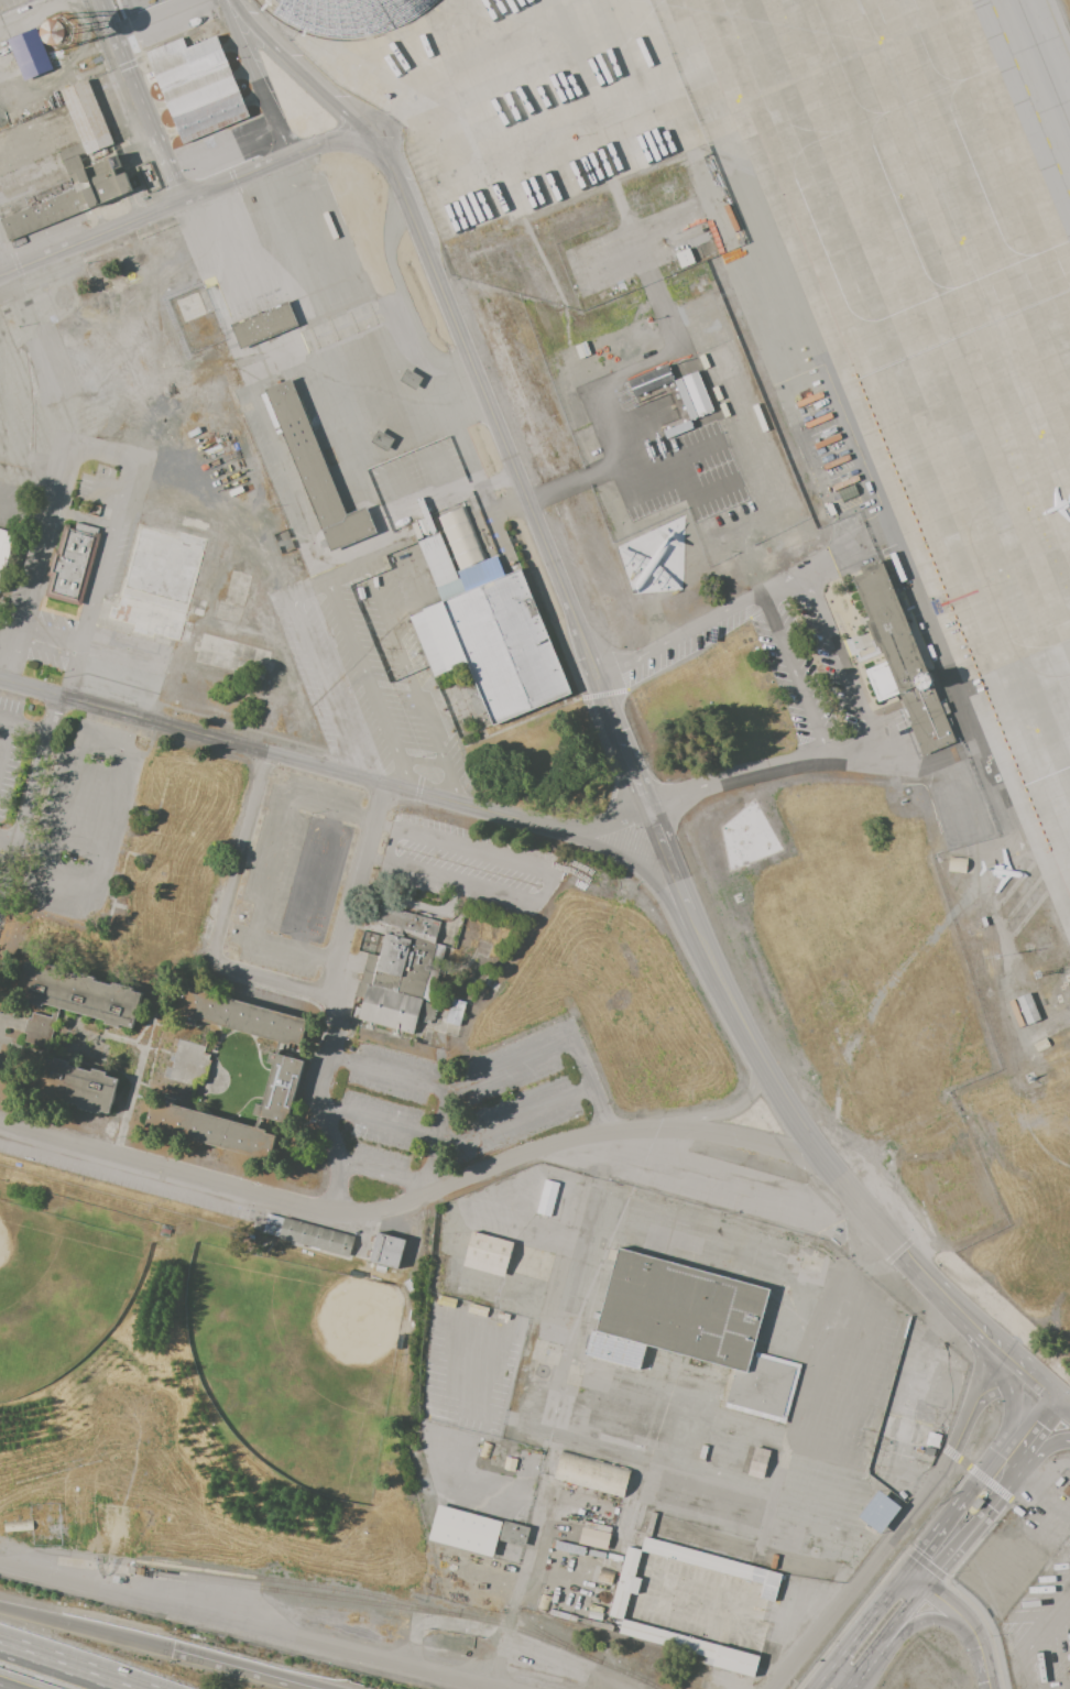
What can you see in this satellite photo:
road: (152, 15)
airport hangar: (349, 15)
building: (349, 15)
parking lot: (173, 19)
building: (59, 33)
water tower: (59, 33)
building: (30, 54)
airport taxiway: (1045, 62)
road: (260, 78)
building: (198, 84)
road: (318, 88)
road: (144, 100)
parking lot: (225, 146)
building: (76, 167)
building: (151, 174)
road: (146, 217)
building: (683, 258)
airport apron: (816, 261)
road: (2, 269)
road: (407, 306)
parking lot: (263, 322)
building: (262, 324)
airport: (832, 372)
building: (649, 380)
building: (692, 395)
parking lot: (666, 434)
road: (713, 460)
building: (312, 465)
road: (124, 466)
road: (67, 475)
road: (26, 514)
road: (85, 517)
building: (449, 549)
building: (6, 556)
building: (653, 560)
road: (101, 562)
building: (73, 565)
road: (321, 581)
road: (701, 624)
road: (10, 630)
road: (51, 632)
building: (491, 641)
road: (77, 649)
road: (838, 655)
building: (896, 657)
road: (404, 664)
parking lot: (786, 672)
road: (796, 673)
parking lot: (368, 674)
building: (476, 701)
road: (23, 723)
road: (8, 748)
parking lot: (10, 749)
road: (423, 763)
road: (325, 767)
road: (635, 771)
road: (760, 771)
road: (28, 798)
road: (8, 841)
road: (390, 848)
road: (241, 852)
building: (954, 863)
parking lot: (469, 868)
road: (637, 870)
road: (547, 884)
building: (410, 960)
road: (269, 978)
building: (78, 993)
road: (330, 996)
building: (1026, 1007)
building: (454, 1011)
building: (242, 1016)
building: (39, 1027)
road: (146, 1043)
building: (1038, 1044)
building: (188, 1064)
road: (496, 1069)
building: (73, 1085)
building: (279, 1089)
road: (722, 1113)
building: (210, 1129)
road: (465, 1144)
road: (433, 1167)
road: (386, 1180)
building: (961, 1194)
building: (550, 1199)
road: (414, 1201)
building: (271, 1224)
building: (314, 1238)
road: (718, 1240)
building: (386, 1247)
building: (492, 1255)
park: (57, 1296)
building: (694, 1319)
park: (293, 1365)
road: (1023, 1385)
road: (648, 1388)
park: (203, 1391)
road: (1062, 1397)
road: (1007, 1405)
building: (931, 1438)
road: (1059, 1446)
road: (1040, 1450)
building: (756, 1462)
building: (594, 1476)
road: (979, 1481)
road: (1045, 1492)
road: (1000, 1497)
toll booth: (976, 1504)
building: (877, 1511)
road: (904, 1523)
building: (17, 1526)
building: (512, 1533)
building: (467, 1534)
building: (593, 1535)
road: (926, 1565)
building: (604, 1576)
road: (915, 1580)
railway: (297, 1584)
building: (619, 1600)
railway: (411, 1609)
road: (898, 1620)
road: (931, 1621)
road: (244, 1623)
road: (989, 1625)
road: (86, 1630)
road: (968, 1630)
road: (861, 1631)
railway: (543, 1633)
traffic signals: (173, 1652)
road: (66, 1666)
road: (241, 1670)
road: (859, 1670)

